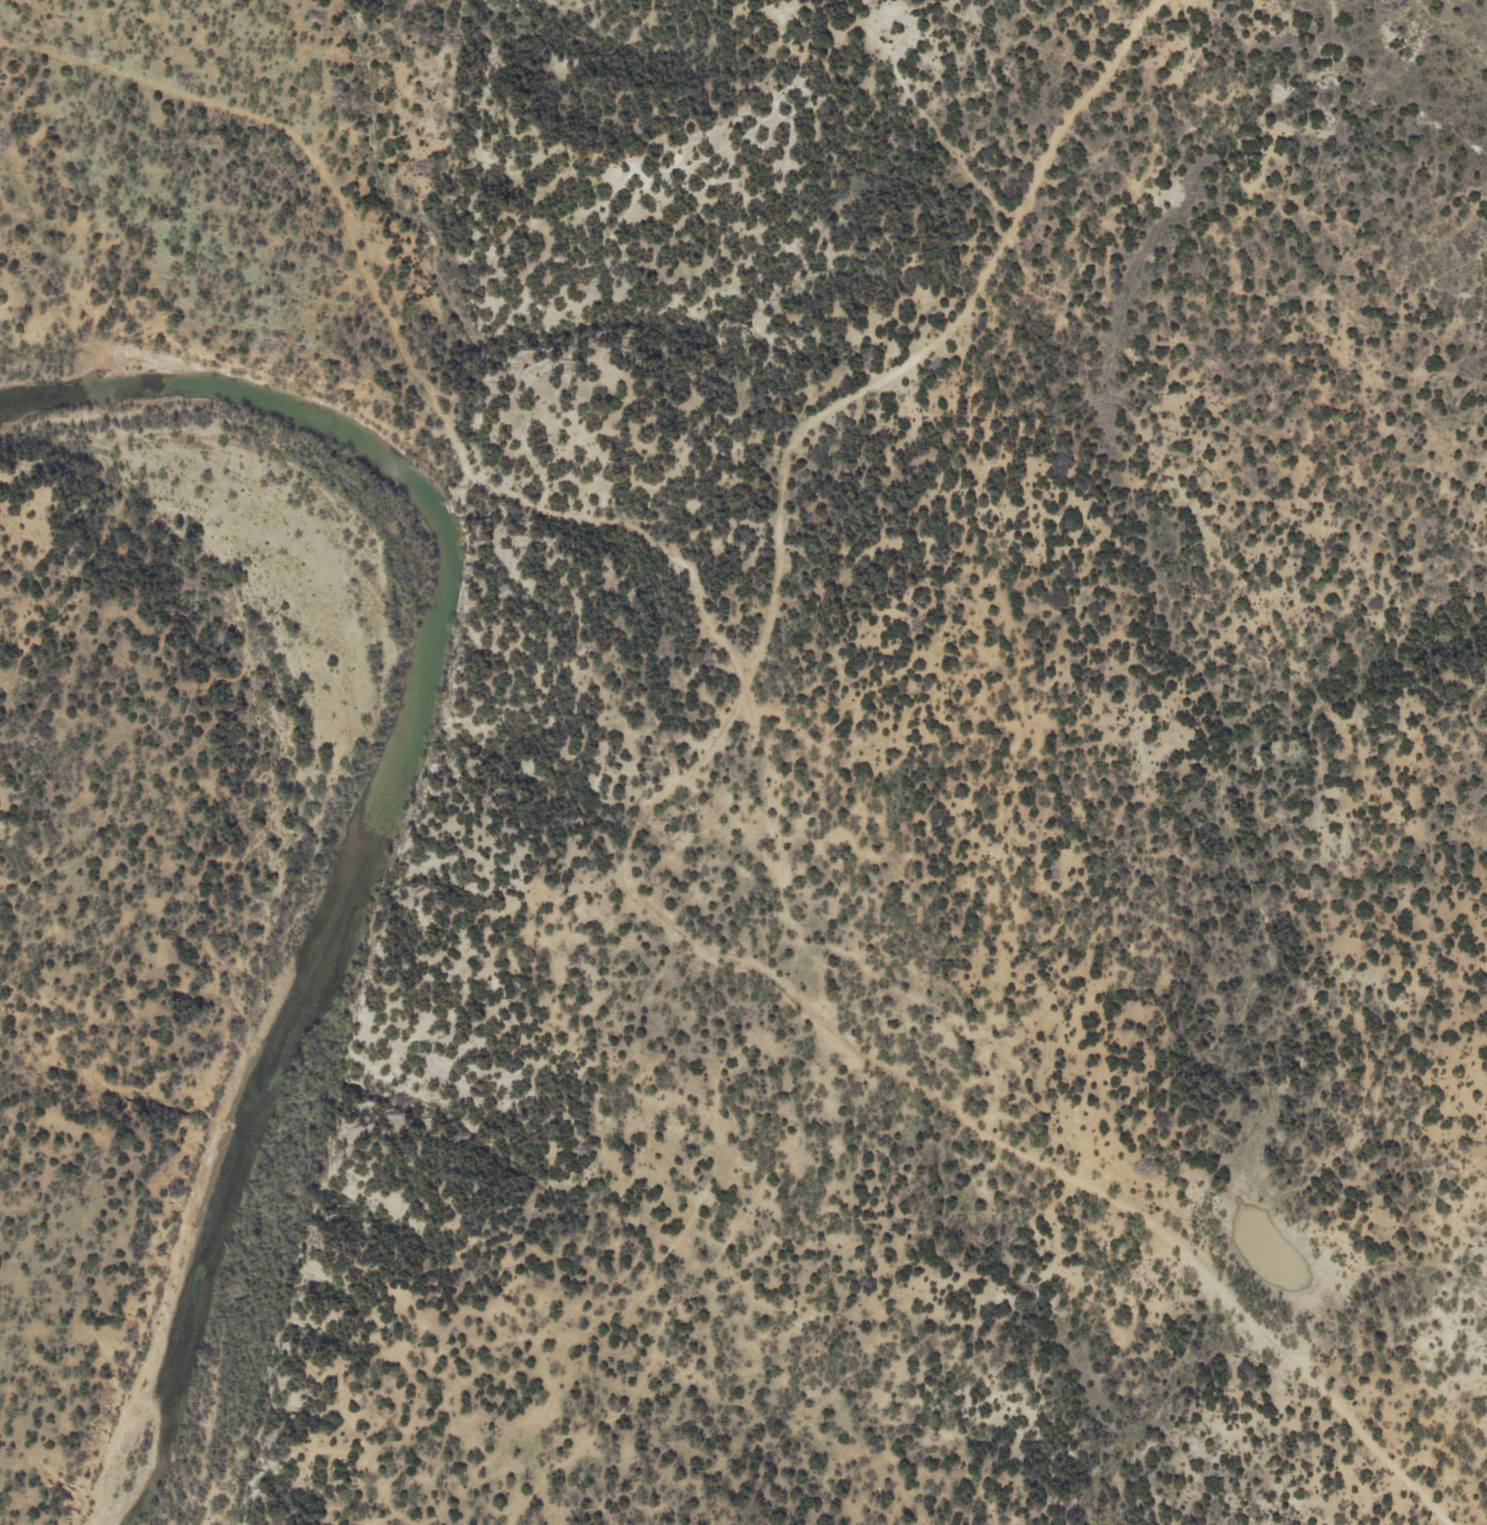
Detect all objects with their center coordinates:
road: (127, 91)
river: (376, 799)
road: (690, 863)

